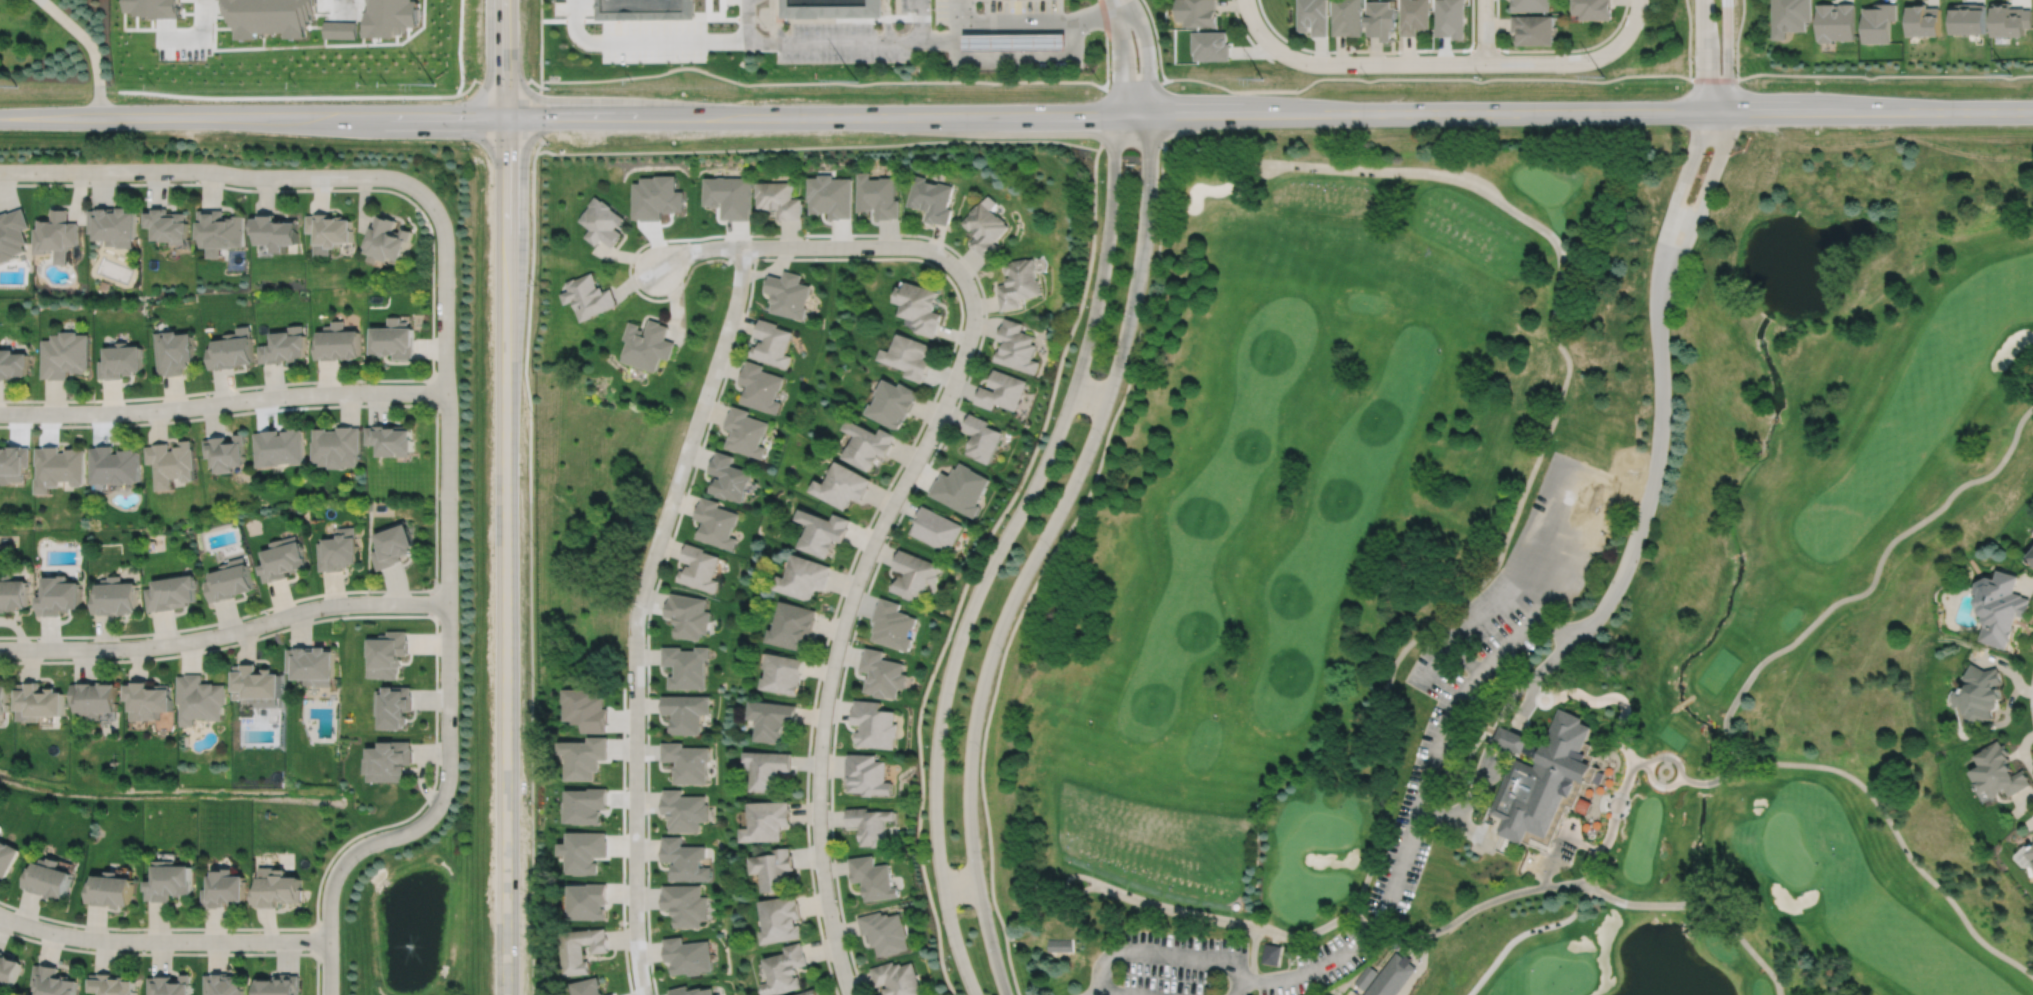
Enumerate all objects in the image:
building: (1532, 5)
parking lot: (573, 6)
road: (342, 7)
building: (645, 8)
building: (831, 8)
building: (1592, 9)
building: (161, 11)
building: (1198, 12)
building: (1314, 16)
building: (1415, 16)
building: (1790, 16)
building: (1347, 17)
building: (1381, 18)
building: (1450, 18)
building: (1969, 18)
building: (273, 19)
building: (396, 19)
building: (2010, 19)
road: (1025, 20)
building: (1925, 20)
road: (778, 21)
road: (886, 21)
road: (1633, 21)
building: (1836, 21)
building: (1879, 22)
building: (1535, 28)
road: (1484, 31)
building: (342, 32)
road: (1246, 34)
road: (1688, 38)
road: (1736, 38)
road: (1156, 39)
road: (540, 40)
parking lot: (653, 40)
road: (644, 41)
road: (916, 41)
road: (201, 42)
road: (812, 42)
building: (1015, 42)
road: (1106, 44)
building: (1211, 45)
road: (89, 49)
road: (1484, 49)
road: (1551, 49)
road: (1376, 50)
road: (1146, 55)
road: (1119, 56)
road: (1702, 56)
road: (1727, 56)
road: (504, 59)
road: (1015, 61)
road: (1421, 63)
power tower: (2009, 74)
road: (1885, 75)
road: (1425, 77)
power tower: (1603, 77)
road: (523, 79)
power tower: (1264, 79)
road: (1713, 79)
power tower: (856, 81)
road: (823, 82)
power tower: (433, 84)
road: (1137, 85)
power tower: (17, 88)
road: (1269, 113)
road: (537, 115)
road: (49, 118)
road: (302, 118)
road: (1102, 119)
road: (1131, 142)
road: (817, 146)
road: (521, 152)
street lamp: (93, 162)
street lamp: (311, 166)
road: (212, 171)
street lamp: (1103, 179)
street lamp: (195, 180)
street lamp: (1158, 182)
road: (1678, 193)
building: (729, 196)
building: (829, 196)
building: (877, 196)
building: (655, 197)
road: (1702, 197)
building: (931, 199)
street lamp: (415, 200)
building: (777, 200)
building: (602, 222)
building: (169, 225)
building: (116, 227)
building: (985, 227)
building: (331, 229)
building: (222, 231)
building: (278, 232)
building: (13, 235)
building: (57, 235)
street lamp: (917, 237)
building: (388, 241)
road: (836, 246)
street lamp: (703, 258)
road: (854, 258)
building: (1018, 284)
building: (106, 286)
street lamp: (454, 292)
road: (432, 294)
building: (788, 295)
building: (588, 297)
street lamp: (1088, 304)
building: (920, 308)
street lamp: (1139, 315)
building: (394, 339)
building: (337, 343)
building: (649, 344)
building: (772, 344)
building: (1016, 346)
building: (287, 347)
building: (233, 351)
building: (175, 353)
building: (64, 355)
building: (909, 356)
building: (121, 362)
building: (13, 366)
road: (967, 377)
building: (762, 385)
street lamp: (261, 388)
building: (1002, 389)
road: (433, 390)
road: (1090, 393)
street lamp: (363, 401)
building: (894, 401)
road: (223, 402)
street lamp: (37, 403)
street lamp: (439, 414)
street lamp: (1055, 414)
street lamp: (142, 420)
building: (747, 430)
building: (982, 436)
building: (391, 437)
street lamp: (1102, 437)
building: (868, 442)
street lamp: (936, 443)
building: (337, 444)
building: (281, 445)
road: (1541, 447)
building: (228, 450)
building: (14, 461)
building: (173, 461)
building: (116, 464)
building: (61, 466)
road: (1654, 469)
street lamp: (669, 476)
building: (730, 476)
building: (843, 483)
building: (961, 486)
road: (435, 499)
road: (1064, 500)
street lamp: (457, 501)
road: (1025, 502)
park: (1274, 513)
street lamp: (1005, 520)
building: (717, 521)
road: (1547, 521)
building: (935, 527)
building: (823, 530)
building: (392, 542)
street lamp: (1049, 547)
building: (337, 548)
building: (2031, 555)
road: (505, 557)
building: (284, 558)
road: (1044, 564)
building: (699, 566)
road: (972, 567)
park: (1277, 569)
road: (531, 572)
building: (914, 573)
building: (804, 575)
road: (1874, 575)
building: (231, 579)
street lamp: (438, 580)
building: (172, 591)
building: (12, 592)
street lamp: (370, 592)
building: (59, 594)
building: (115, 596)
road: (430, 602)
building: (2001, 605)
road: (637, 612)
building: (689, 614)
road: (448, 621)
building: (893, 623)
building: (793, 624)
street lamp: (283, 626)
road: (1556, 628)
road: (225, 633)
street lamp: (952, 635)
road: (1508, 643)
road: (837, 646)
street lamp: (1001, 650)
building: (386, 653)
street lamp: (127, 657)
street lamp: (14, 658)
road: (1555, 658)
road: (1463, 659)
parking lot: (1485, 661)
building: (313, 664)
building: (686, 665)
road: (1432, 665)
building: (782, 672)
building: (882, 673)
building: (258, 683)
street lamp: (457, 683)
building: (1981, 693)
road: (2030, 695)
building: (4, 698)
building: (96, 698)
building: (150, 699)
building: (202, 699)
building: (39, 701)
road: (1682, 703)
road: (1606, 704)
building: (393, 705)
building: (586, 708)
building: (686, 711)
building: (771, 718)
road: (1495, 722)
building: (873, 724)
road: (1512, 732)
road: (1438, 737)
building: (1510, 738)
road: (435, 741)
street lamp: (929, 743)
street lamp: (980, 747)
road: (1743, 751)
road: (1731, 753)
building: (585, 756)
road: (1663, 756)
building: (387, 760)
building: (687, 761)
building: (767, 768)
road: (1660, 769)
building: (1999, 771)
building: (866, 774)
building: (1544, 777)
street lamp: (438, 778)
road: (1714, 779)
road: (1621, 780)
street lamp: (827, 798)
road: (1467, 801)
building: (587, 805)
road: (1598, 805)
building: (685, 810)
road: (1433, 814)
building: (767, 820)
building: (869, 824)
road: (1492, 827)
road: (1465, 828)
road: (1897, 837)
road: (623, 840)
road: (1602, 842)
road: (1484, 846)
building: (585, 851)
building: (2031, 852)
street lamp: (983, 857)
building: (7, 858)
building: (685, 859)
street lamp: (930, 860)
street lamp: (359, 861)
road: (1549, 867)
building: (774, 869)
building: (872, 878)
building: (49, 879)
building: (171, 881)
road: (959, 884)
road: (1064, 886)
building: (226, 889)
building: (278, 889)
building: (111, 891)
building: (589, 901)
building: (686, 904)
road: (1704, 905)
road: (1465, 913)
building: (781, 919)
road: (1228, 920)
street lamp: (143, 931)
building: (884, 932)
road: (1523, 932)
road: (1365, 935)
street lamp: (35, 937)
road: (989, 938)
road: (162, 940)
road: (315, 940)
road: (955, 942)
building: (1062, 944)
street lamp: (1001, 947)
building: (583, 949)
street lamp: (251, 950)
road: (175, 953)
building: (1272, 953)
road: (1192, 955)
building: (688, 956)
street lamp: (951, 956)
parking lot: (1183, 964)
parking lot: (1322, 964)
street lamp: (319, 965)
road: (1102, 966)
building: (9, 970)
building: (786, 970)
building: (1386, 975)
building: (896, 978)
building: (52, 982)
building: (112, 985)
building: (171, 985)
building: (223, 985)
building: (280, 985)
building: (588, 987)
road: (1238, 988)
building: (692, 991)
building: (811, 993)
building: (613, 994)
building: (717, 994)
building: (720, 994)
road: (1111, 994)

